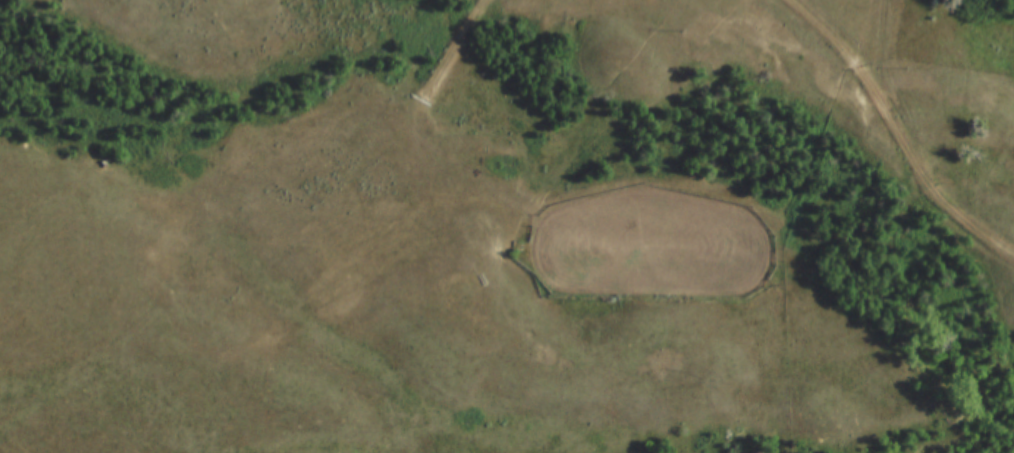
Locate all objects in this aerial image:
road: (433, 79)
road: (897, 133)

